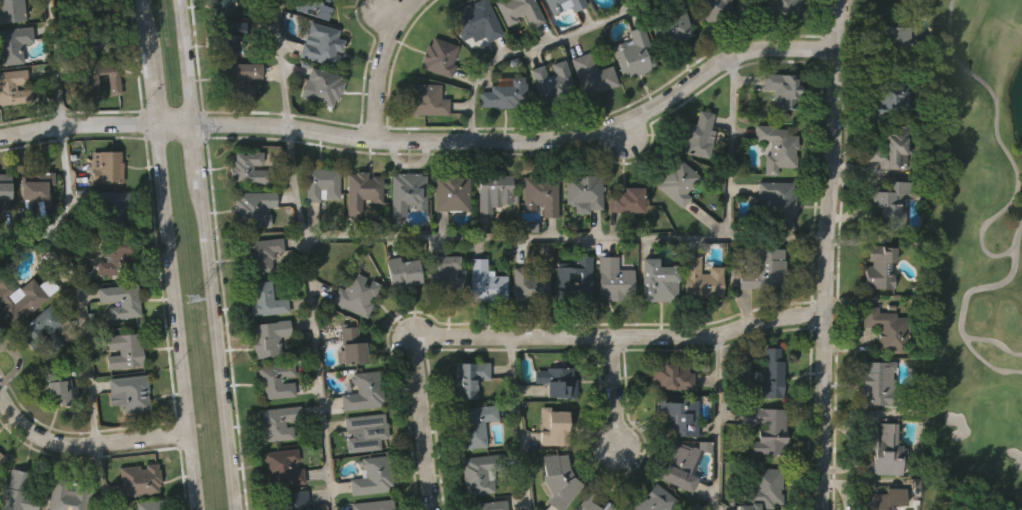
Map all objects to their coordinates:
building: (77, 0)
building: (93, 4)
building: (576, 4)
building: (554, 5)
building: (222, 7)
building: (316, 7)
building: (715, 9)
building: (784, 9)
building: (12, 11)
building: (519, 11)
building: (476, 21)
building: (671, 24)
road: (738, 26)
building: (226, 36)
building: (93, 37)
building: (901, 40)
building: (13, 43)
building: (321, 44)
road: (532, 49)
building: (634, 53)
building: (440, 56)
road: (282, 63)
road: (378, 65)
building: (592, 74)
building: (239, 79)
building: (551, 82)
building: (89, 83)
building: (323, 85)
building: (14, 87)
building: (782, 90)
building: (504, 93)
building: (889, 98)
building: (426, 100)
building: (698, 133)
road: (427, 139)
building: (891, 145)
road: (731, 147)
building: (777, 149)
building: (110, 168)
building: (247, 168)
building: (679, 180)
building: (37, 185)
building: (6, 186)
building: (321, 186)
building: (362, 190)
building: (494, 190)
building: (407, 191)
building: (452, 191)
building: (583, 192)
building: (540, 193)
building: (888, 198)
building: (628, 200)
building: (778, 201)
building: (252, 209)
building: (113, 210)
road: (58, 224)
road: (27, 237)
road: (564, 239)
building: (263, 250)
road: (205, 254)
road: (824, 254)
road: (168, 255)
building: (116, 257)
park: (979, 260)
building: (880, 268)
building: (765, 270)
building: (402, 271)
building: (444, 273)
building: (562, 275)
building: (656, 276)
building: (700, 276)
building: (614, 277)
building: (532, 281)
building: (486, 282)
building: (355, 293)
building: (21, 298)
building: (265, 298)
building: (122, 299)
power tower: (195, 301)
road: (311, 318)
building: (887, 328)
building: (29, 329)
building: (268, 335)
road: (622, 336)
building: (351, 343)
building: (124, 350)
building: (769, 374)
building: (670, 375)
building: (468, 376)
building: (275, 378)
building: (558, 380)
building: (882, 382)
building: (57, 383)
building: (363, 389)
building: (131, 390)
road: (615, 392)
building: (678, 414)
road: (719, 421)
building: (279, 422)
road: (422, 423)
road: (520, 423)
building: (474, 424)
building: (555, 426)
building: (765, 427)
building: (365, 431)
road: (84, 445)
building: (884, 449)
building: (1, 455)
building: (1, 460)
building: (283, 466)
building: (682, 468)
building: (479, 472)
building: (373, 475)
road: (100, 477)
building: (139, 479)
building: (560, 479)
building: (762, 489)
building: (17, 491)
building: (69, 495)
building: (294, 499)
building: (654, 499)
building: (881, 499)
building: (595, 502)
building: (373, 504)
building: (489, 504)
building: (150, 505)

